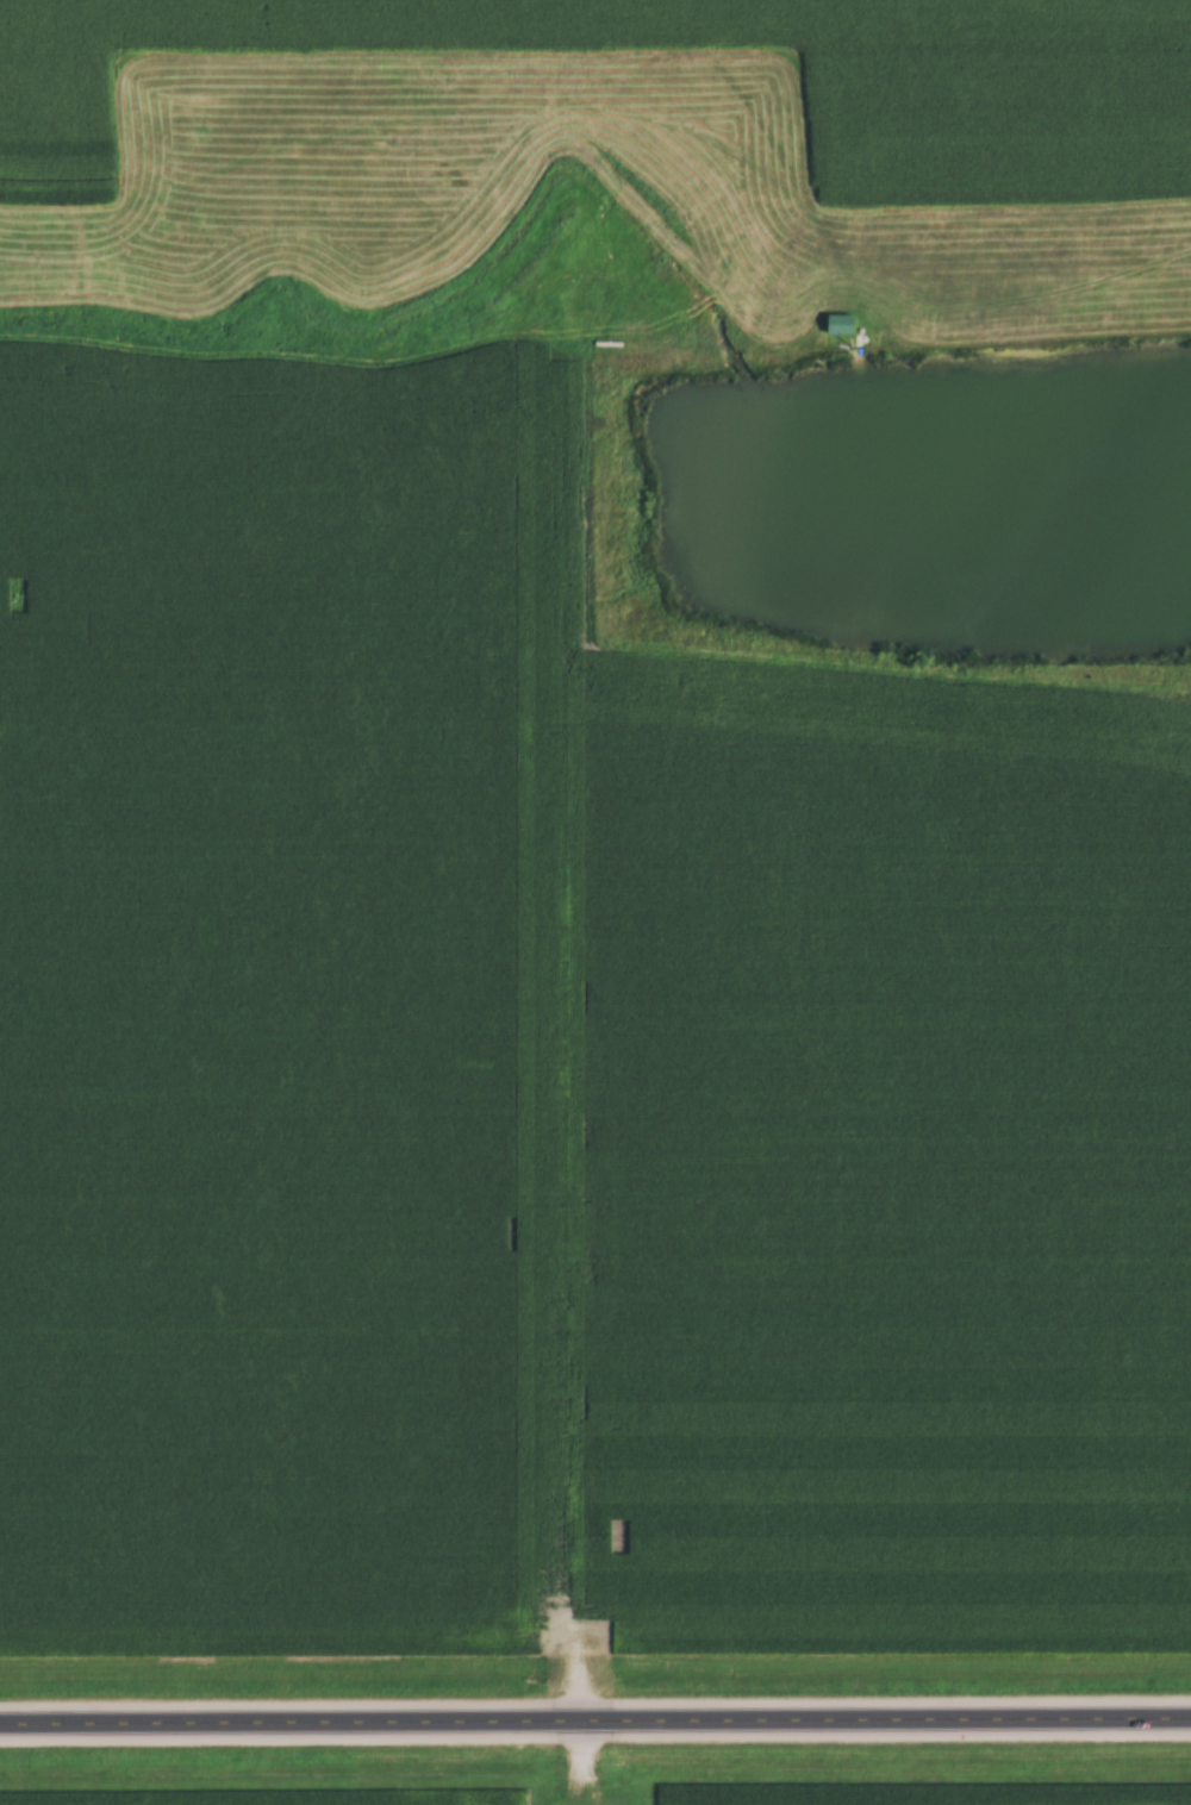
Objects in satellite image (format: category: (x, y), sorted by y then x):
road: (595, 1707)

